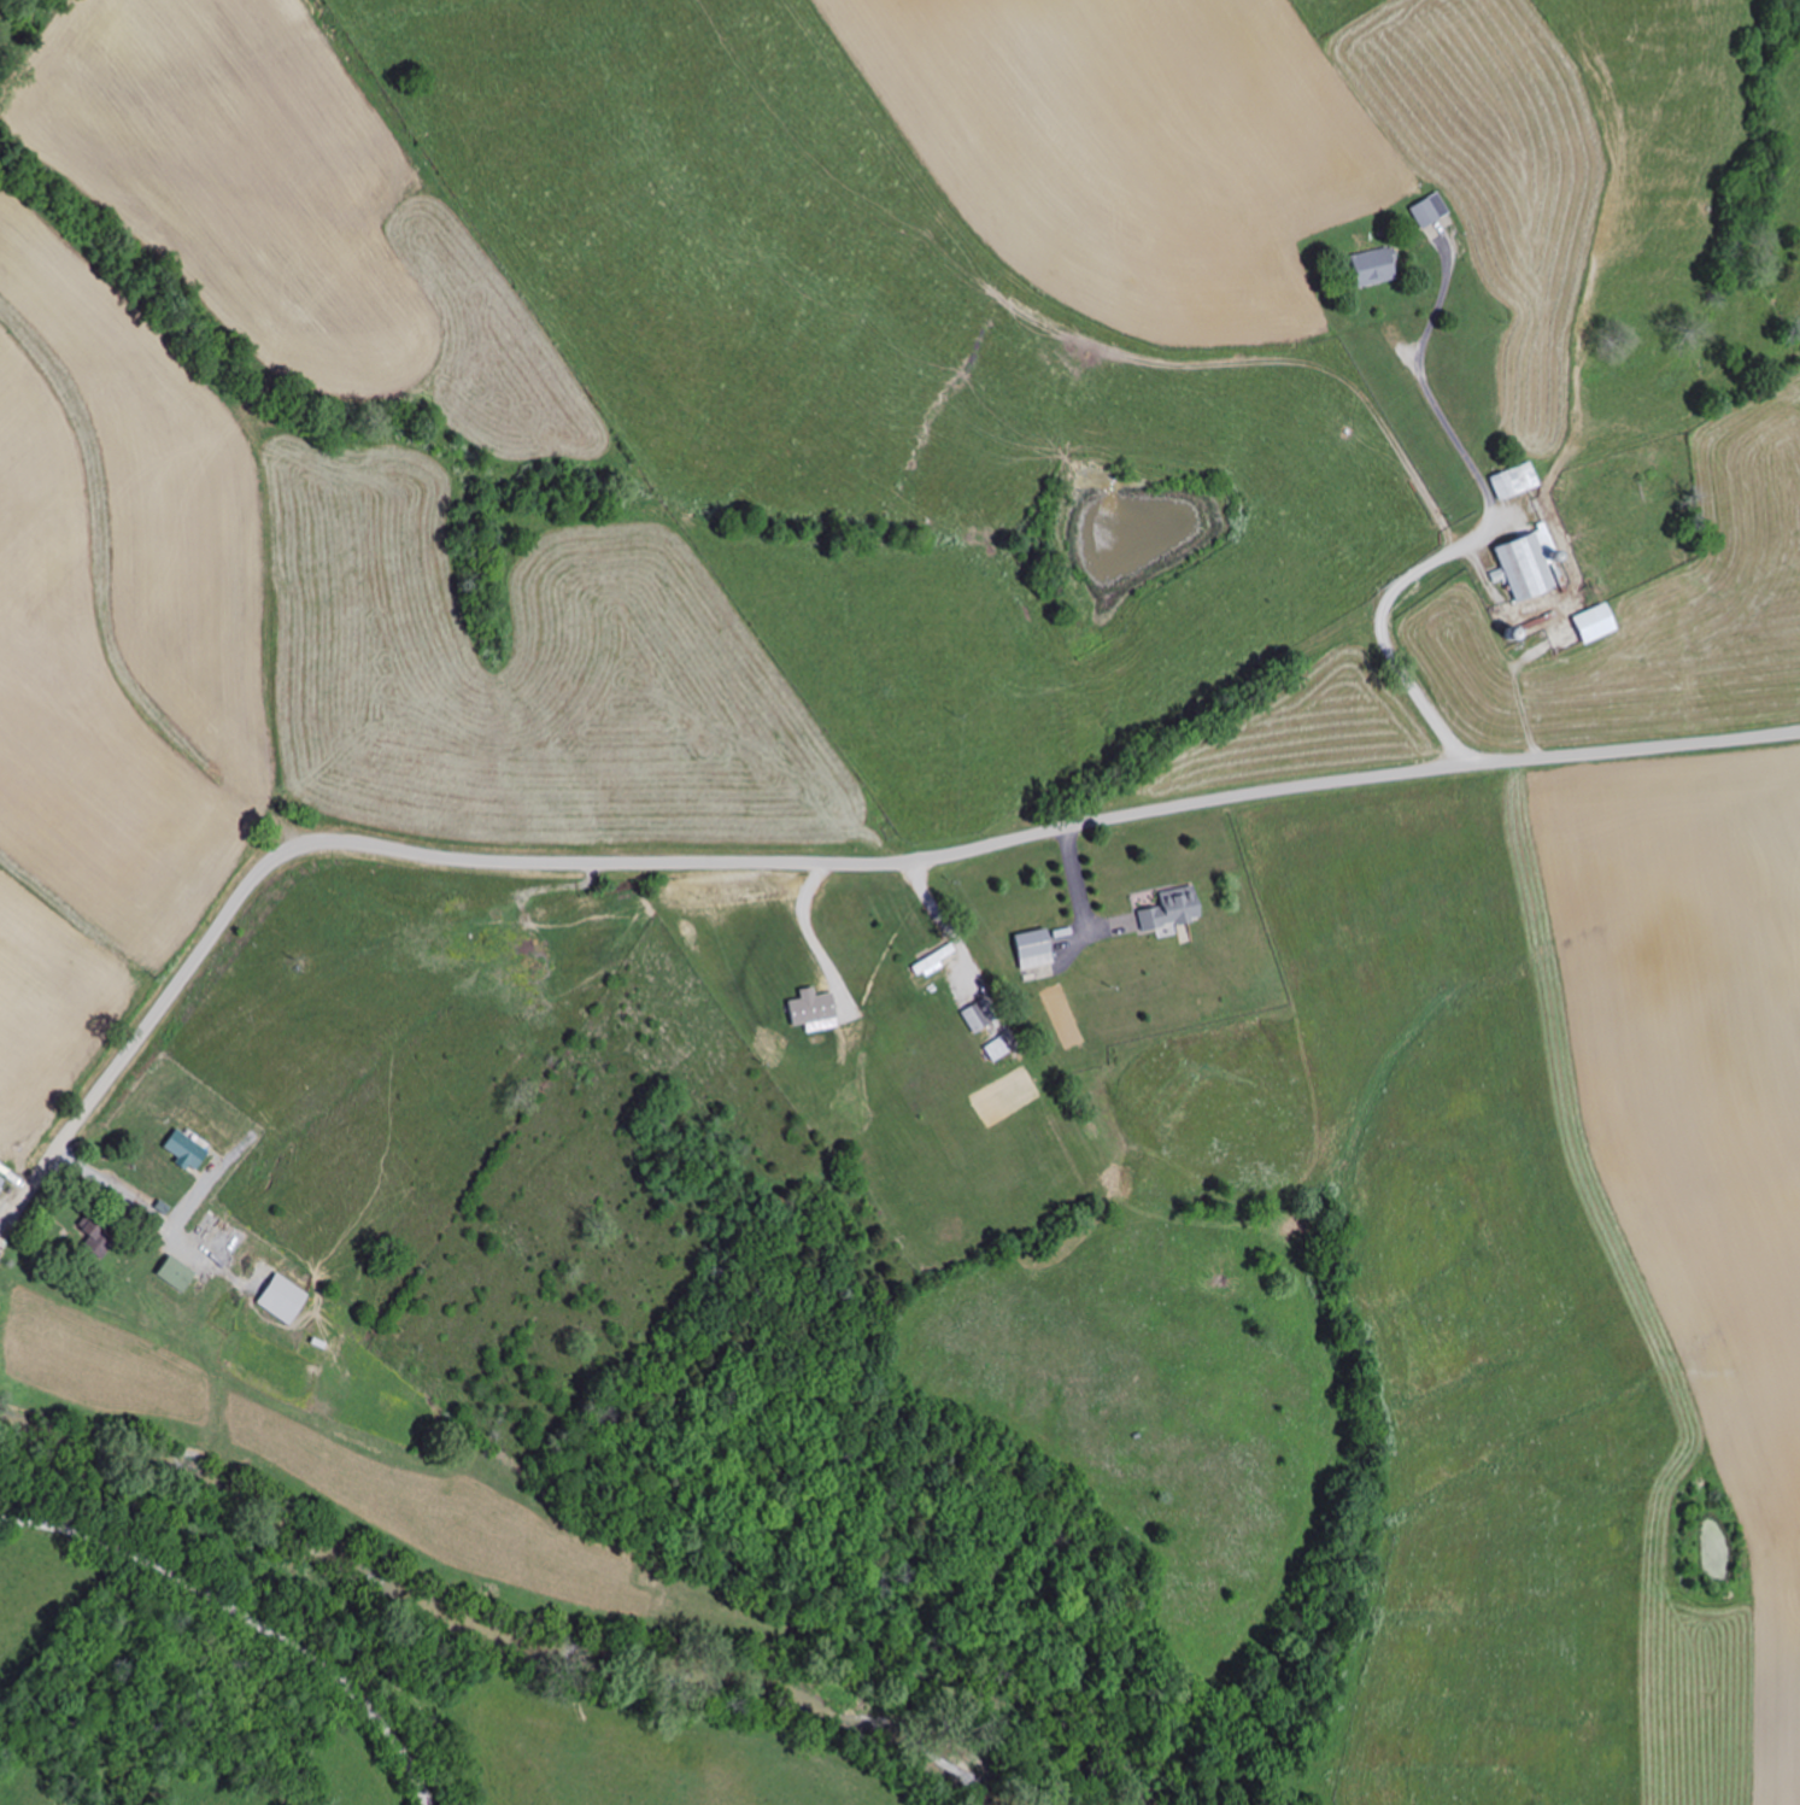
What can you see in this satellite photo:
building: (1421, 215)
building: (1371, 268)
building: (1513, 482)
building: (1525, 564)
building: (1589, 625)
road: (1655, 749)
road: (659, 865)
building: (1169, 910)
building: (1030, 951)
building: (932, 961)
building: (973, 1020)
building: (93, 1242)
building: (170, 1274)
building: (281, 1301)
road: (242, 1619)
river: (559, 1651)

